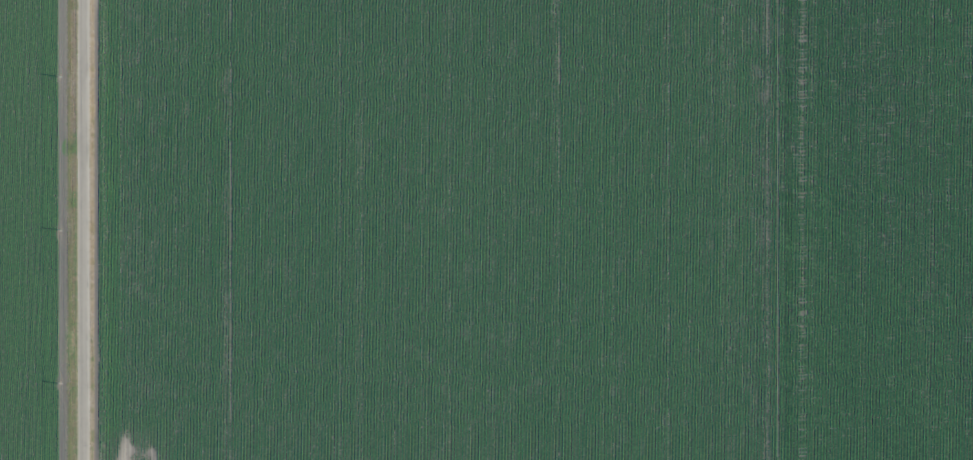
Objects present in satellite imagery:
road: (87, 230)

